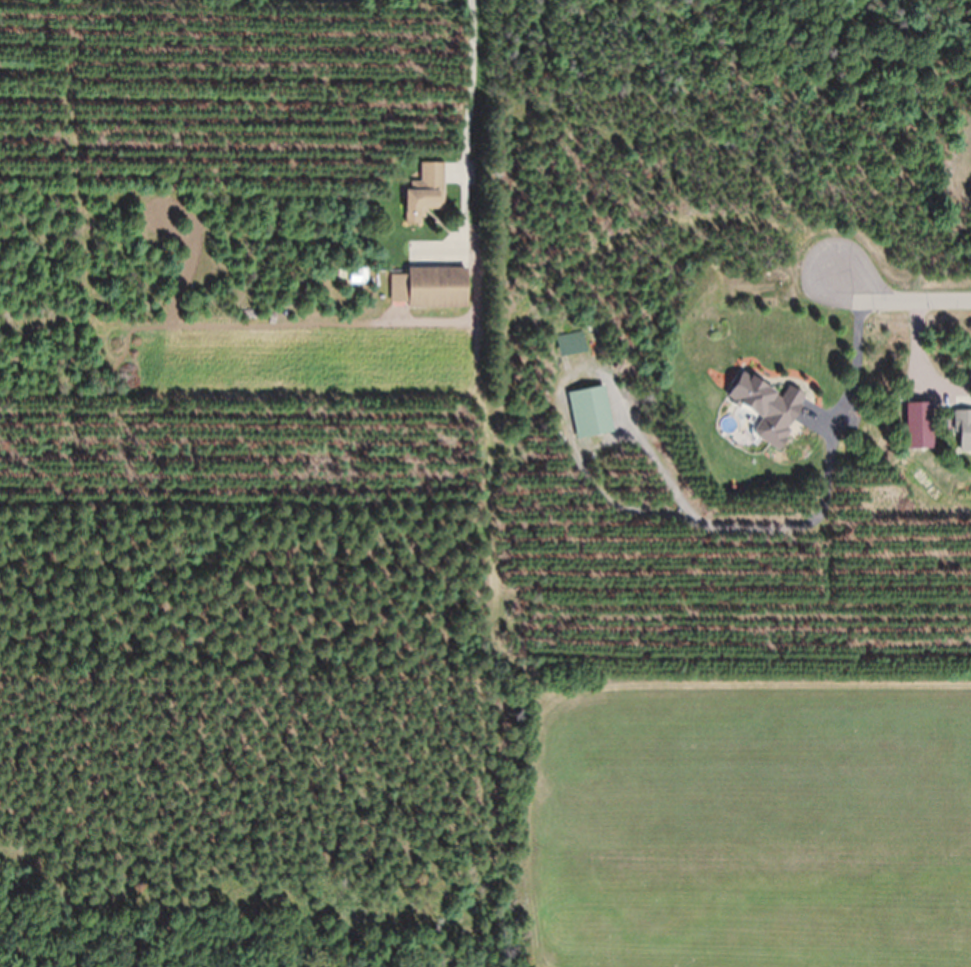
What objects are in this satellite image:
building: (424, 192)
building: (429, 287)
road: (898, 301)
building: (767, 407)
building: (590, 411)
building: (919, 425)
building: (963, 428)
crop: (751, 825)

